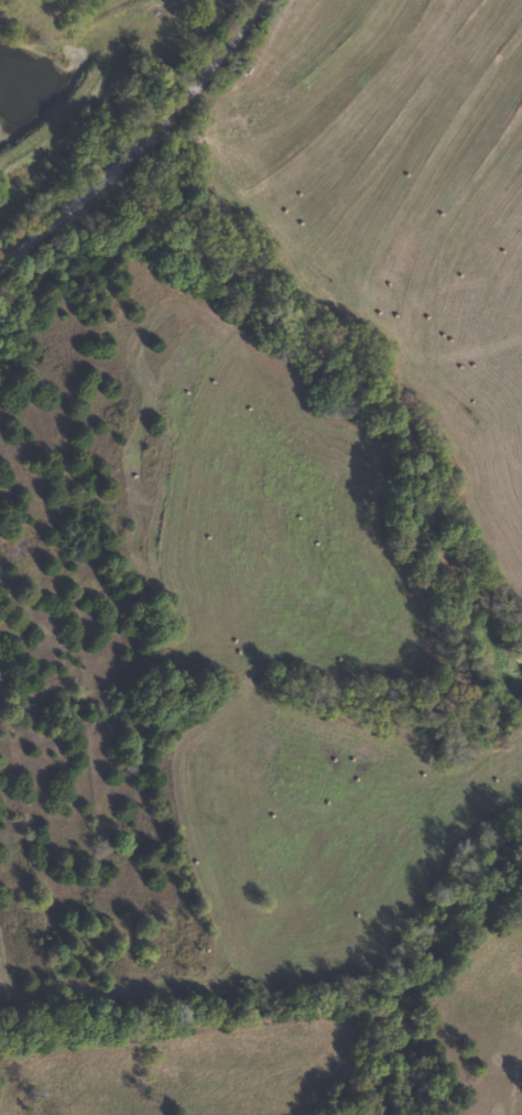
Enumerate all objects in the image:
road: (109, 115)

